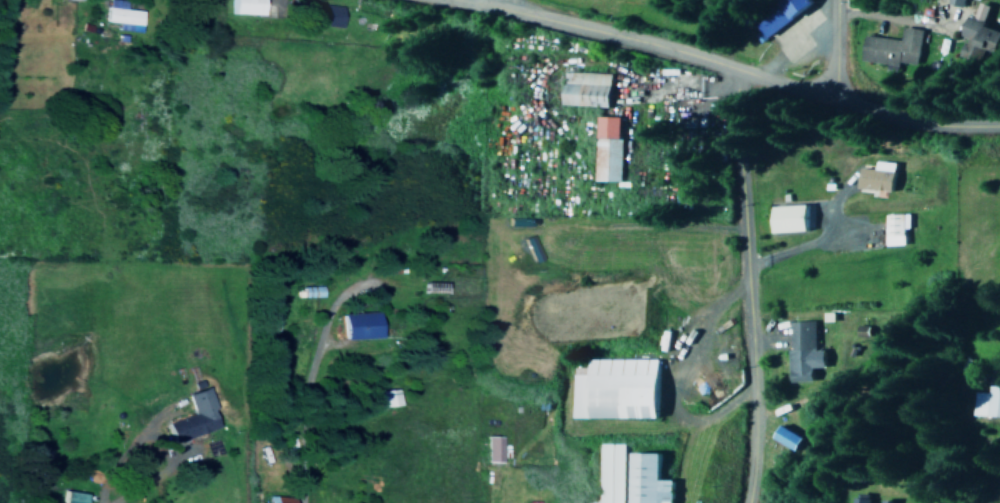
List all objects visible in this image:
building: (70, 0)
building: (955, 3)
building: (244, 8)
building: (780, 15)
building: (121, 17)
building: (324, 17)
road: (584, 30)
building: (977, 33)
building: (900, 46)
road: (832, 49)
building: (584, 90)
road: (864, 108)
building: (607, 150)
building: (877, 178)
building: (789, 220)
building: (894, 229)
building: (530, 250)
road: (741, 286)
building: (358, 326)
building: (802, 353)
building: (614, 389)
building: (387, 398)
building: (989, 402)
building: (193, 417)
building: (787, 438)
building: (492, 450)
building: (607, 474)
building: (647, 480)
road: (126, 487)
building: (71, 498)
building: (860, 500)
building: (885, 501)

